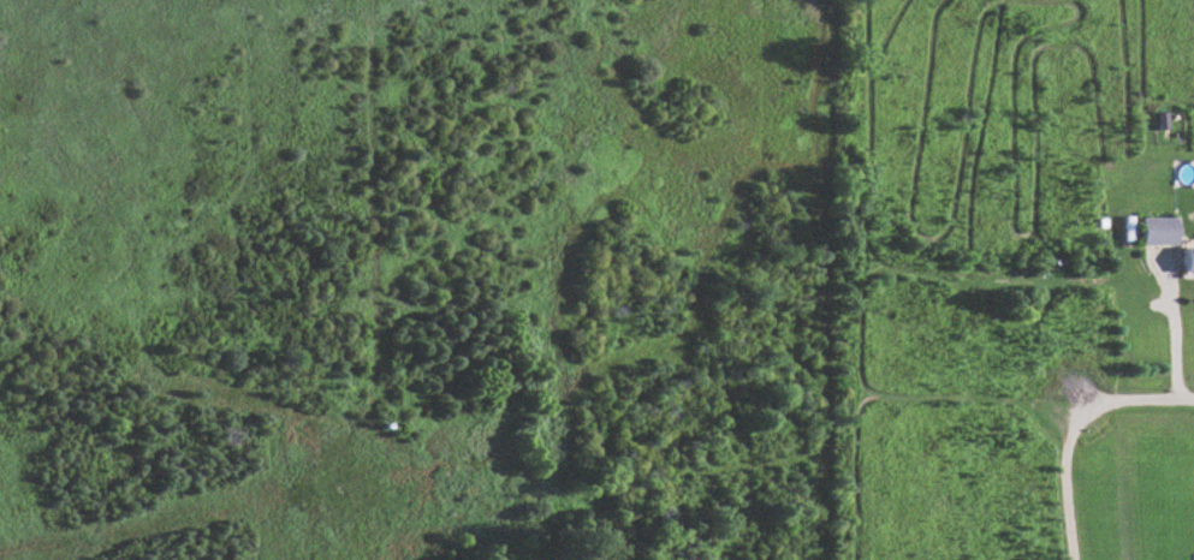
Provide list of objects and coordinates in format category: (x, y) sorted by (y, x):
building: (1156, 233)
building: (1187, 262)
road: (1165, 324)
road: (1134, 399)
road: (1064, 478)

